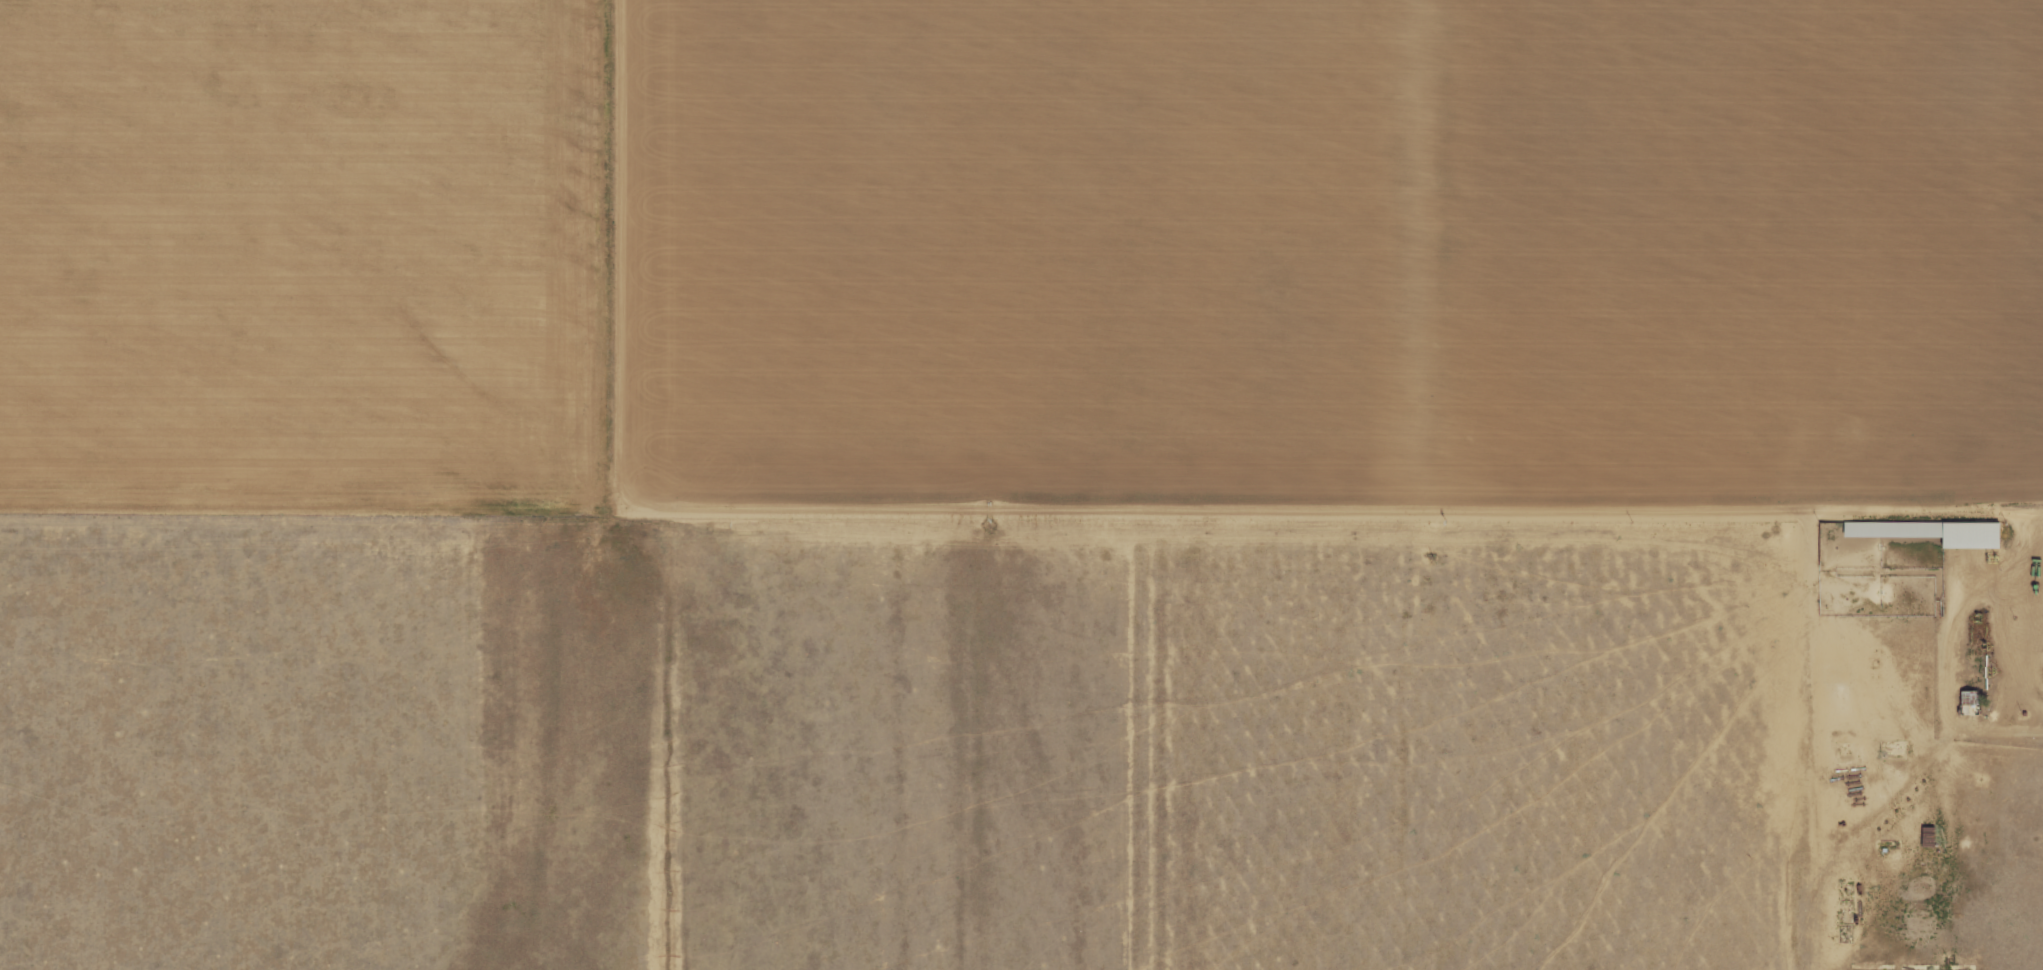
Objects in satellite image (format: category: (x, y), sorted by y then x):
road: (581, 311)
building: (1932, 532)
road: (1021, 623)
building: (1970, 703)
building: (1843, 748)
building: (1929, 837)

